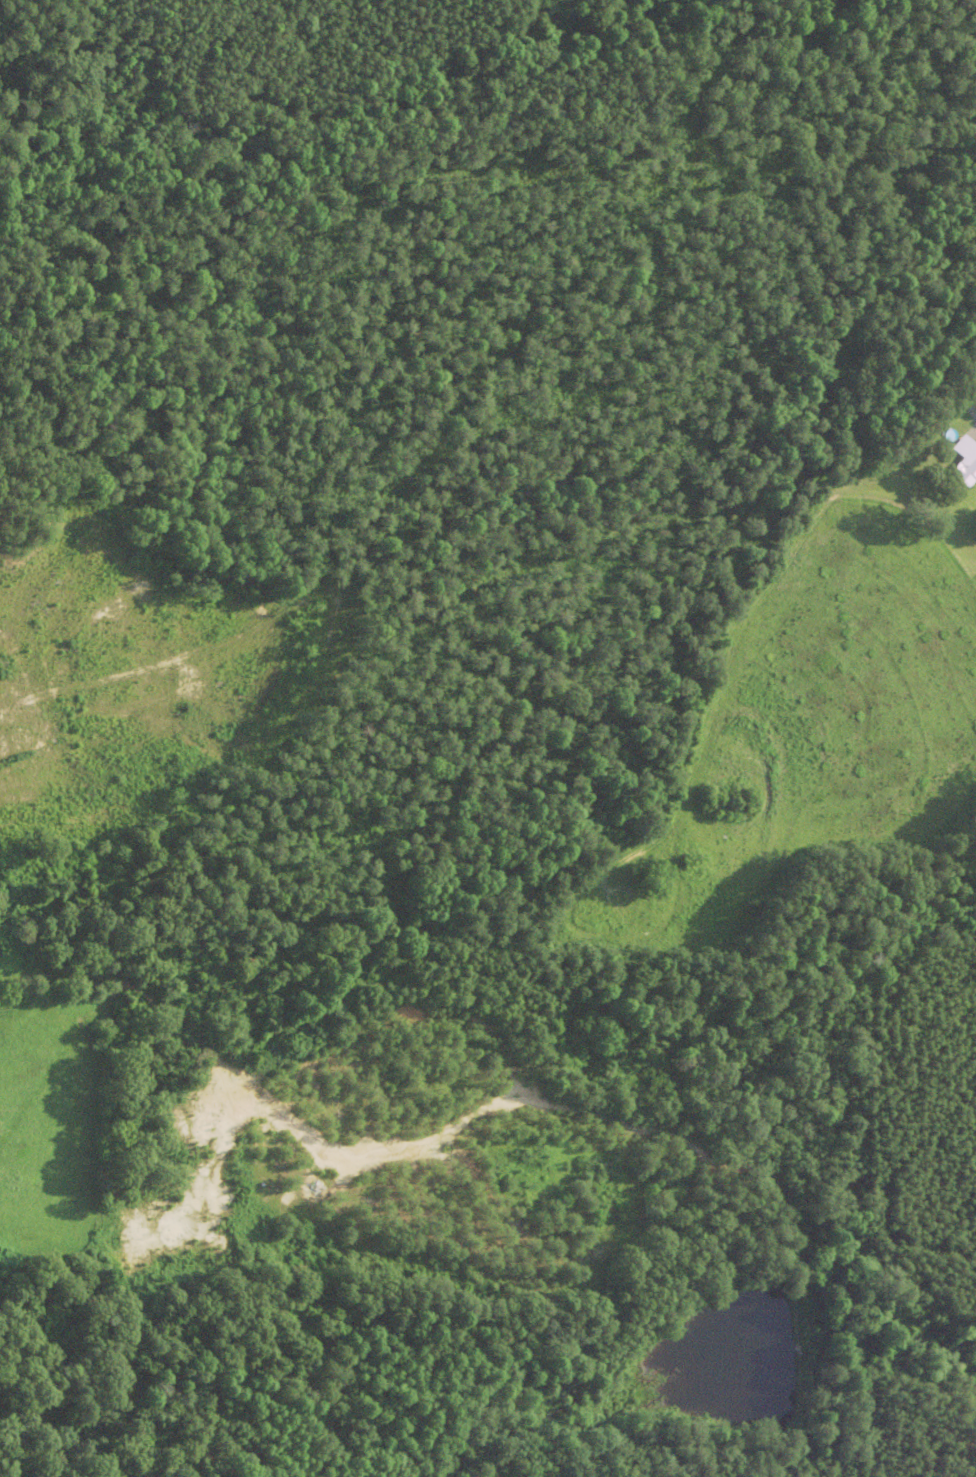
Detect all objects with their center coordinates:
building: (965, 464)
building: (50, 1418)

